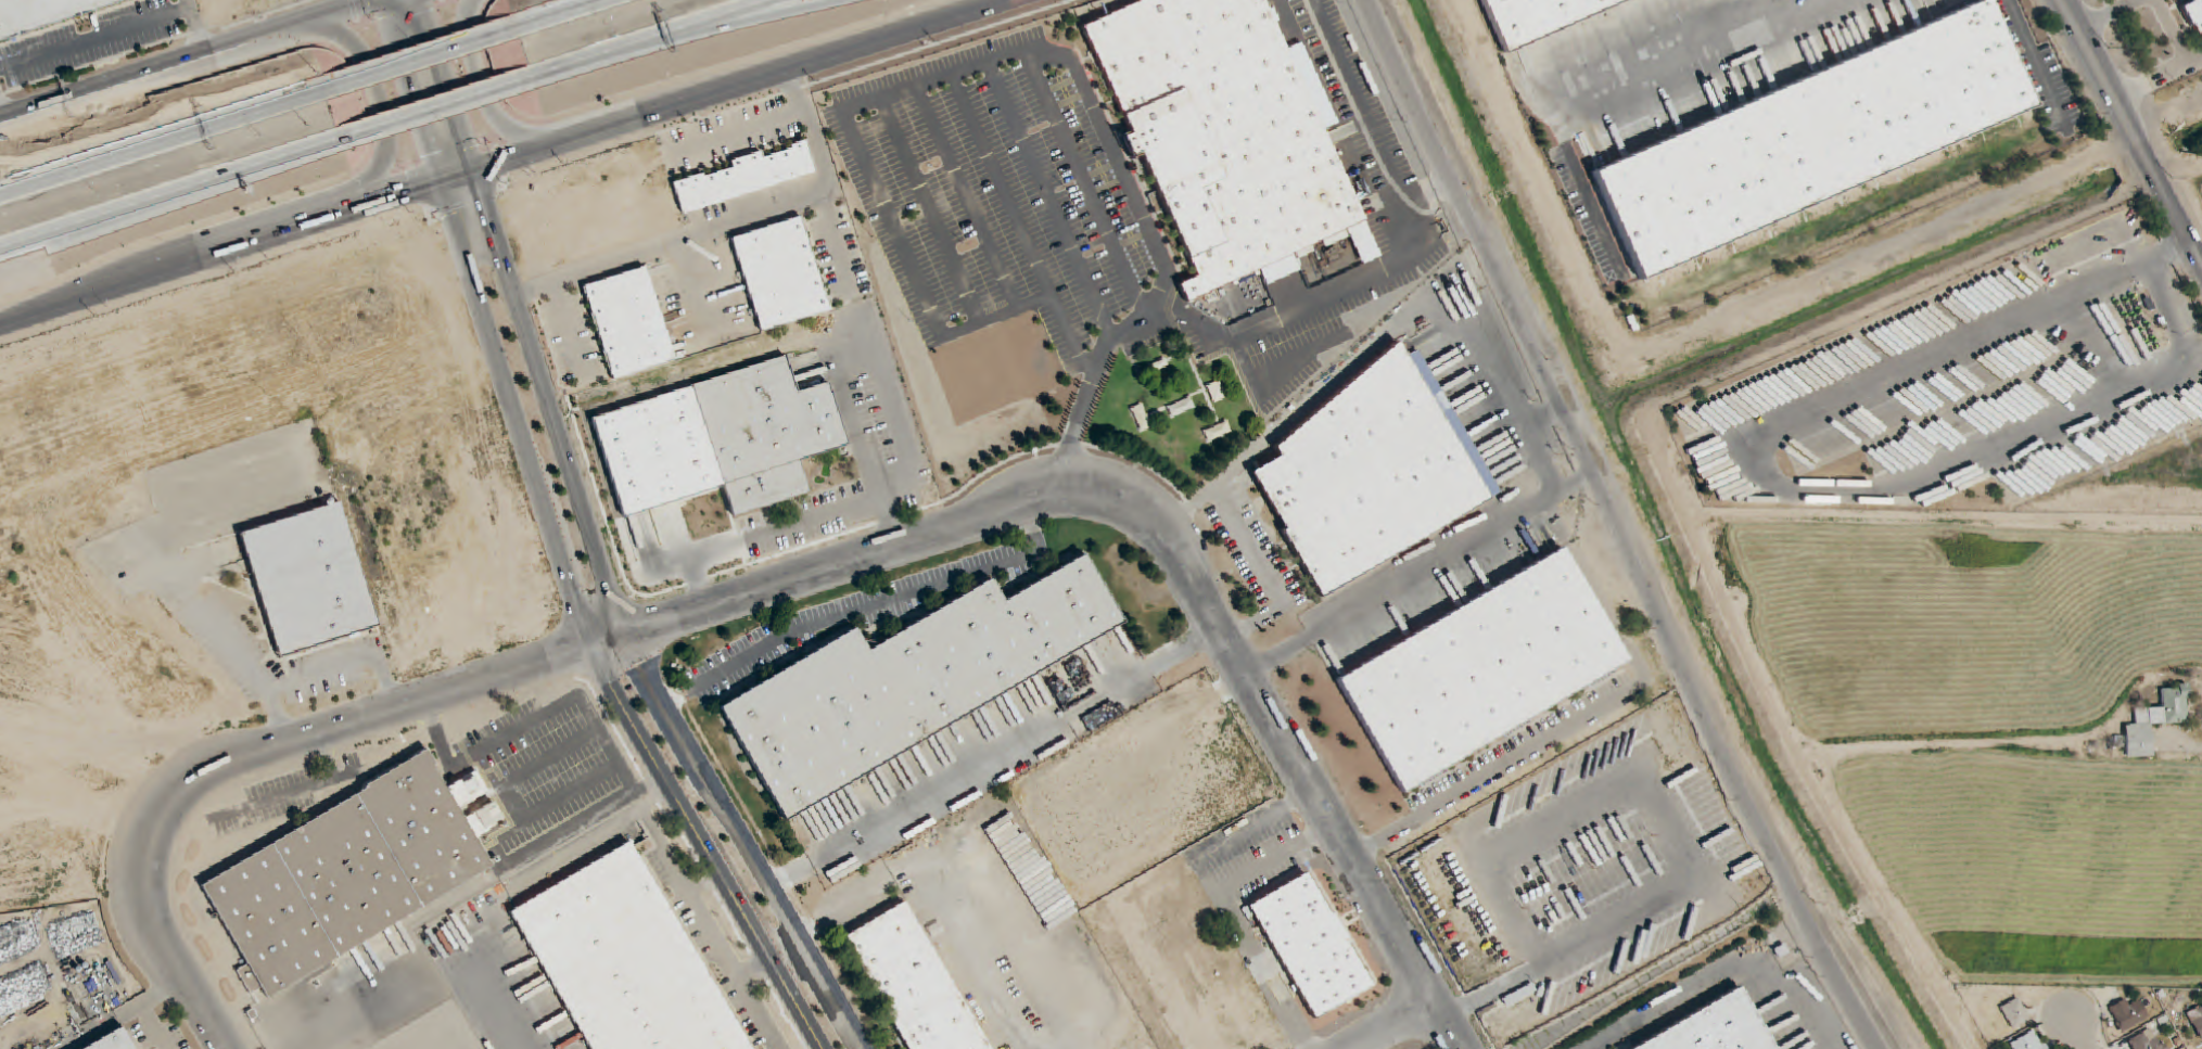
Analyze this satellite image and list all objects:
building: (39, 12)
road: (568, 13)
road: (2109, 16)
building: (2194, 16)
building: (1536, 17)
road: (2169, 31)
road: (662, 39)
road: (803, 44)
road: (191, 59)
road: (425, 60)
road: (2042, 66)
road: (1079, 73)
road: (2160, 78)
road: (487, 93)
road: (1627, 99)
road: (383, 107)
road: (443, 110)
road: (1, 117)
road: (2133, 130)
building: (1221, 131)
road: (1338, 132)
building: (1811, 139)
road: (162, 145)
road: (115, 149)
traffic signals: (433, 153)
road: (501, 162)
building: (741, 177)
road: (1086, 182)
traffic signals: (409, 192)
road: (173, 196)
road: (967, 196)
road: (1048, 197)
traffic signals: (487, 204)
road: (931, 210)
road: (1018, 226)
road: (99, 228)
road: (1404, 257)
building: (778, 274)
road: (913, 279)
road: (2165, 287)
road: (521, 314)
building: (627, 322)
road: (1283, 366)
road: (1500, 367)
road: (1089, 391)
building: (1217, 392)
building: (1181, 407)
building: (1141, 418)
building: (763, 431)
building: (1217, 431)
building: (1371, 472)
road: (1154, 522)
road: (787, 527)
road: (1616, 527)
road: (561, 543)
road: (1273, 575)
building: (306, 579)
road: (869, 605)
road: (234, 650)
road: (344, 661)
building: (1479, 670)
building: (906, 683)
building: (2155, 720)
road: (258, 751)
road: (995, 757)
road: (1492, 764)
road: (744, 841)
building: (345, 875)
building: (1307, 944)
road: (791, 957)
building: (624, 961)
building: (250, 983)
building: (909, 985)
building: (1518, 995)
building: (2014, 1013)
building: (2128, 1014)
building: (2198, 1023)
road: (1391, 1025)
road: (1446, 1025)
building: (1714, 1027)
road: (2080, 1034)
building: (2147, 1040)
building: (2027, 1041)

